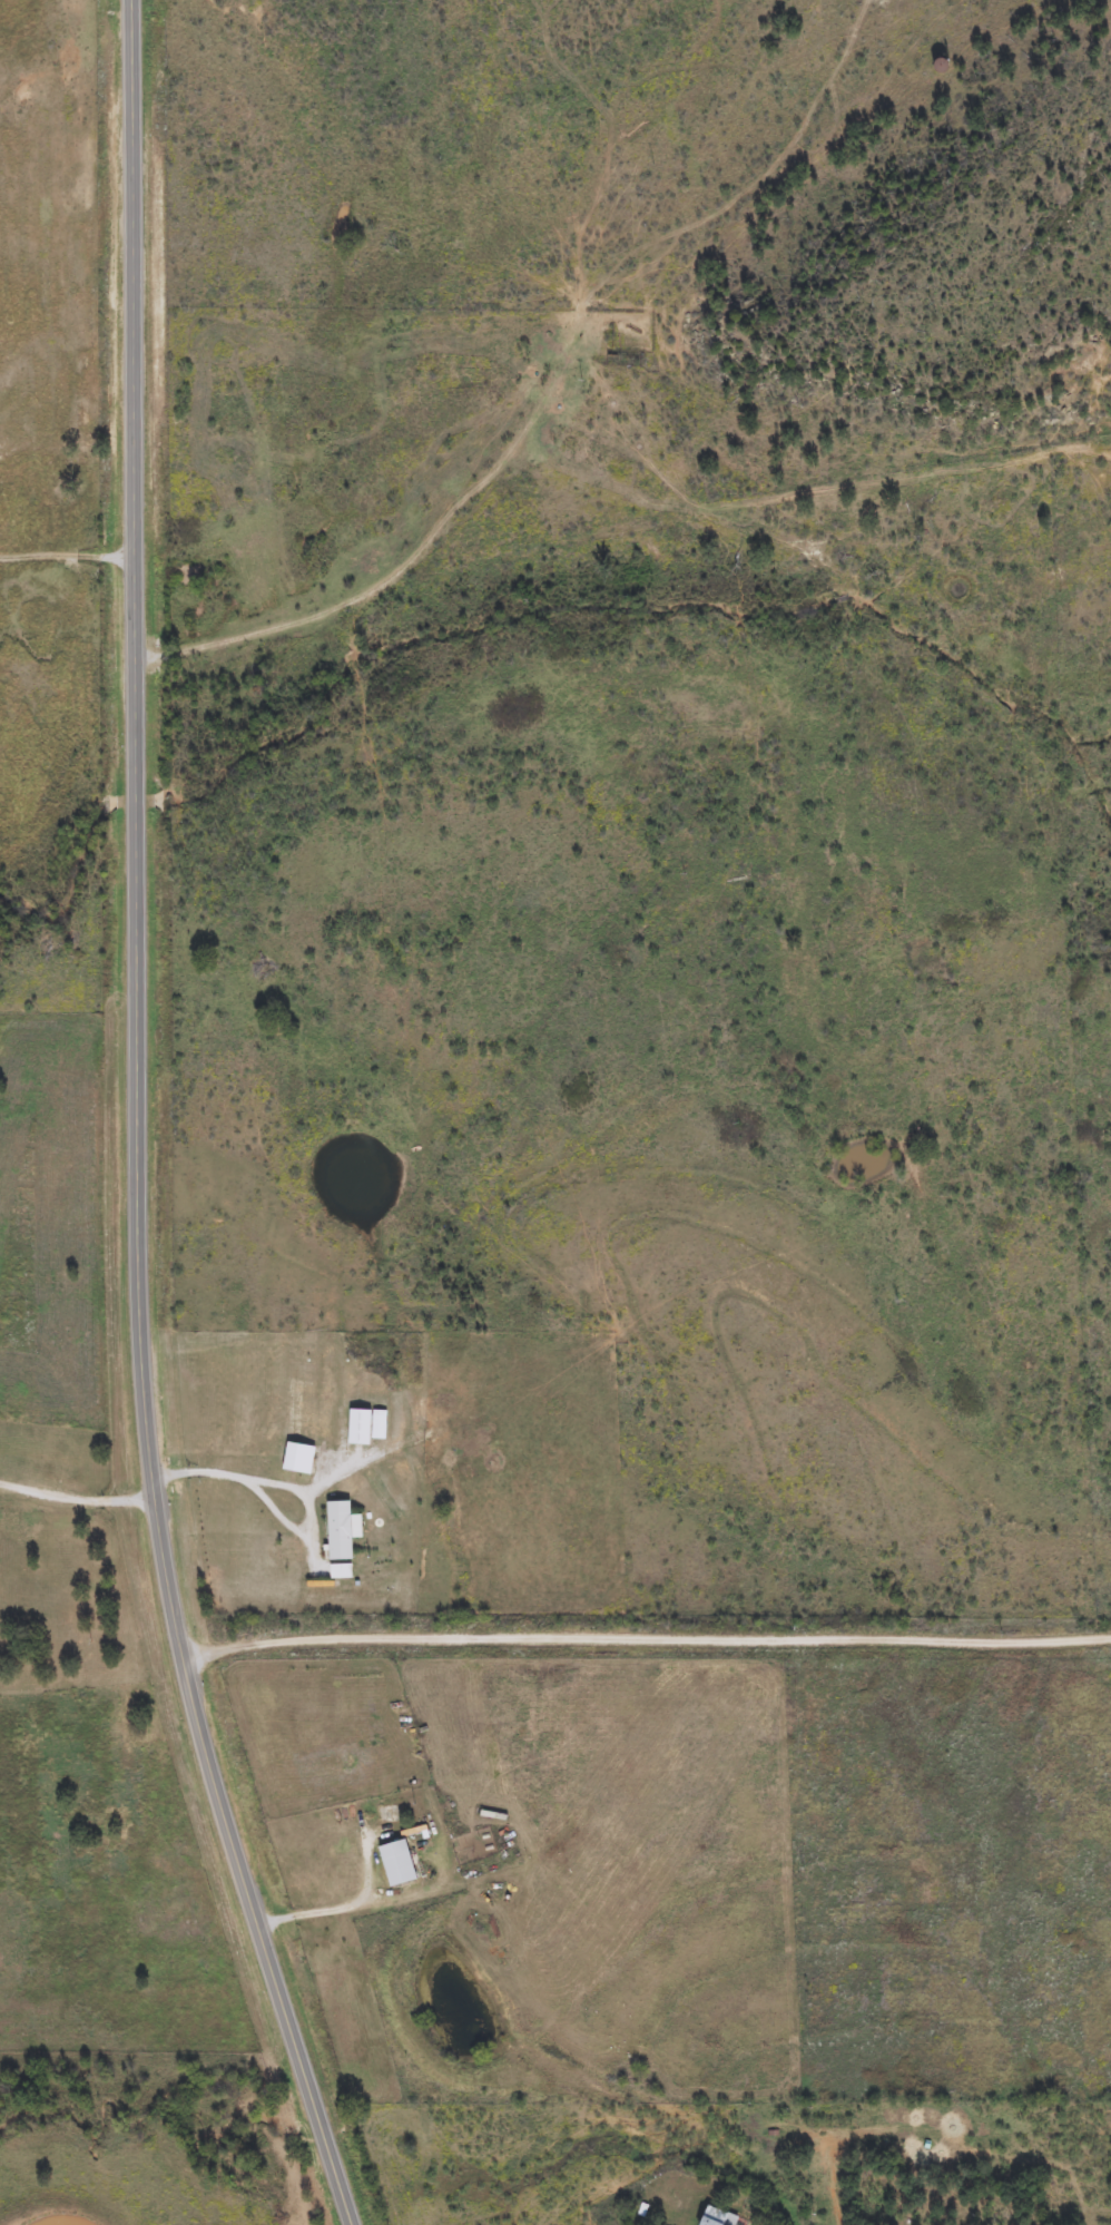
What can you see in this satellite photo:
road: (137, 1126)
building: (298, 1457)
building: (340, 1528)
building: (397, 1862)
building: (716, 2216)

